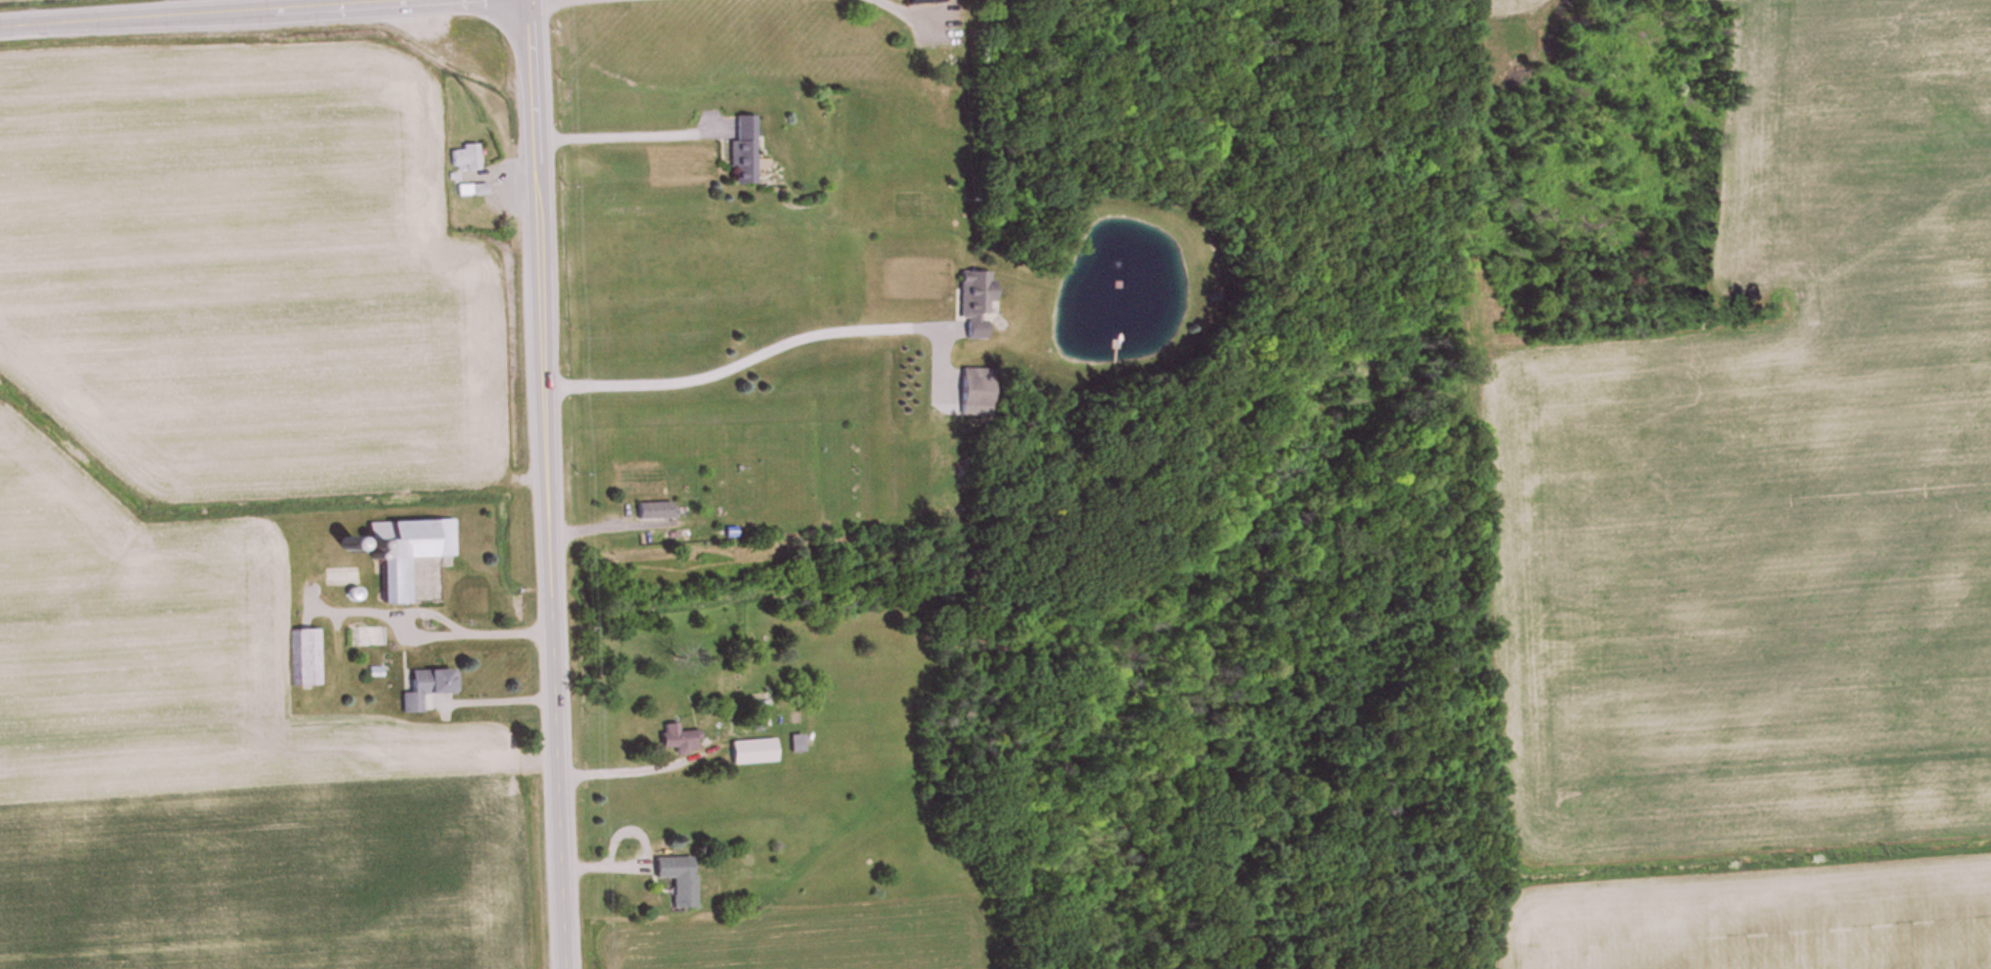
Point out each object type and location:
building: (922, 3)
road: (912, 9)
road: (185, 11)
road: (447, 54)
road: (620, 122)
building: (743, 150)
building: (465, 158)
building: (471, 190)
building: (974, 303)
road: (738, 351)
building: (974, 388)
road: (539, 484)
building: (654, 511)
building: (404, 551)
building: (302, 650)
building: (422, 688)
building: (678, 740)
building: (795, 744)
road: (617, 760)
road: (641, 850)
building: (677, 880)

